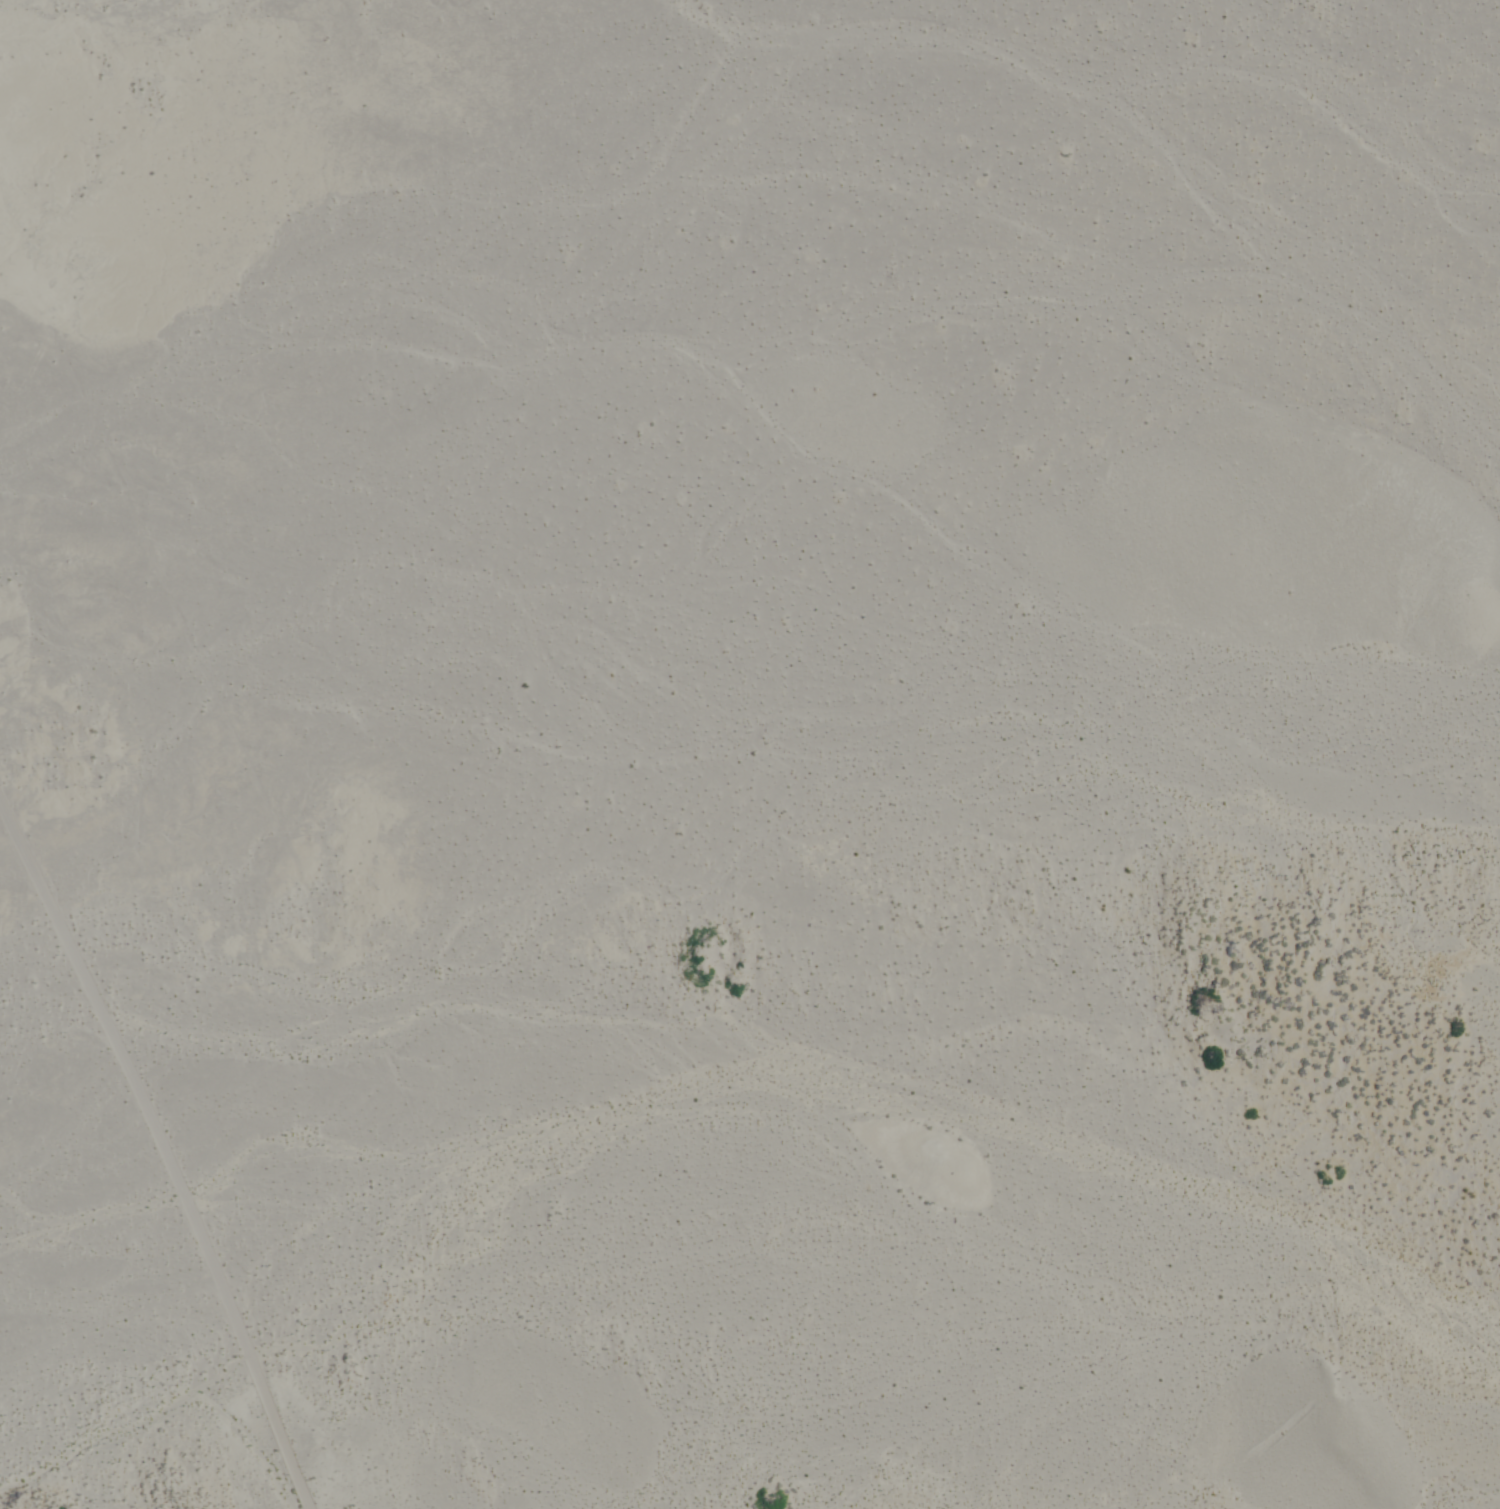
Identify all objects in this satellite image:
road: (163, 1154)

